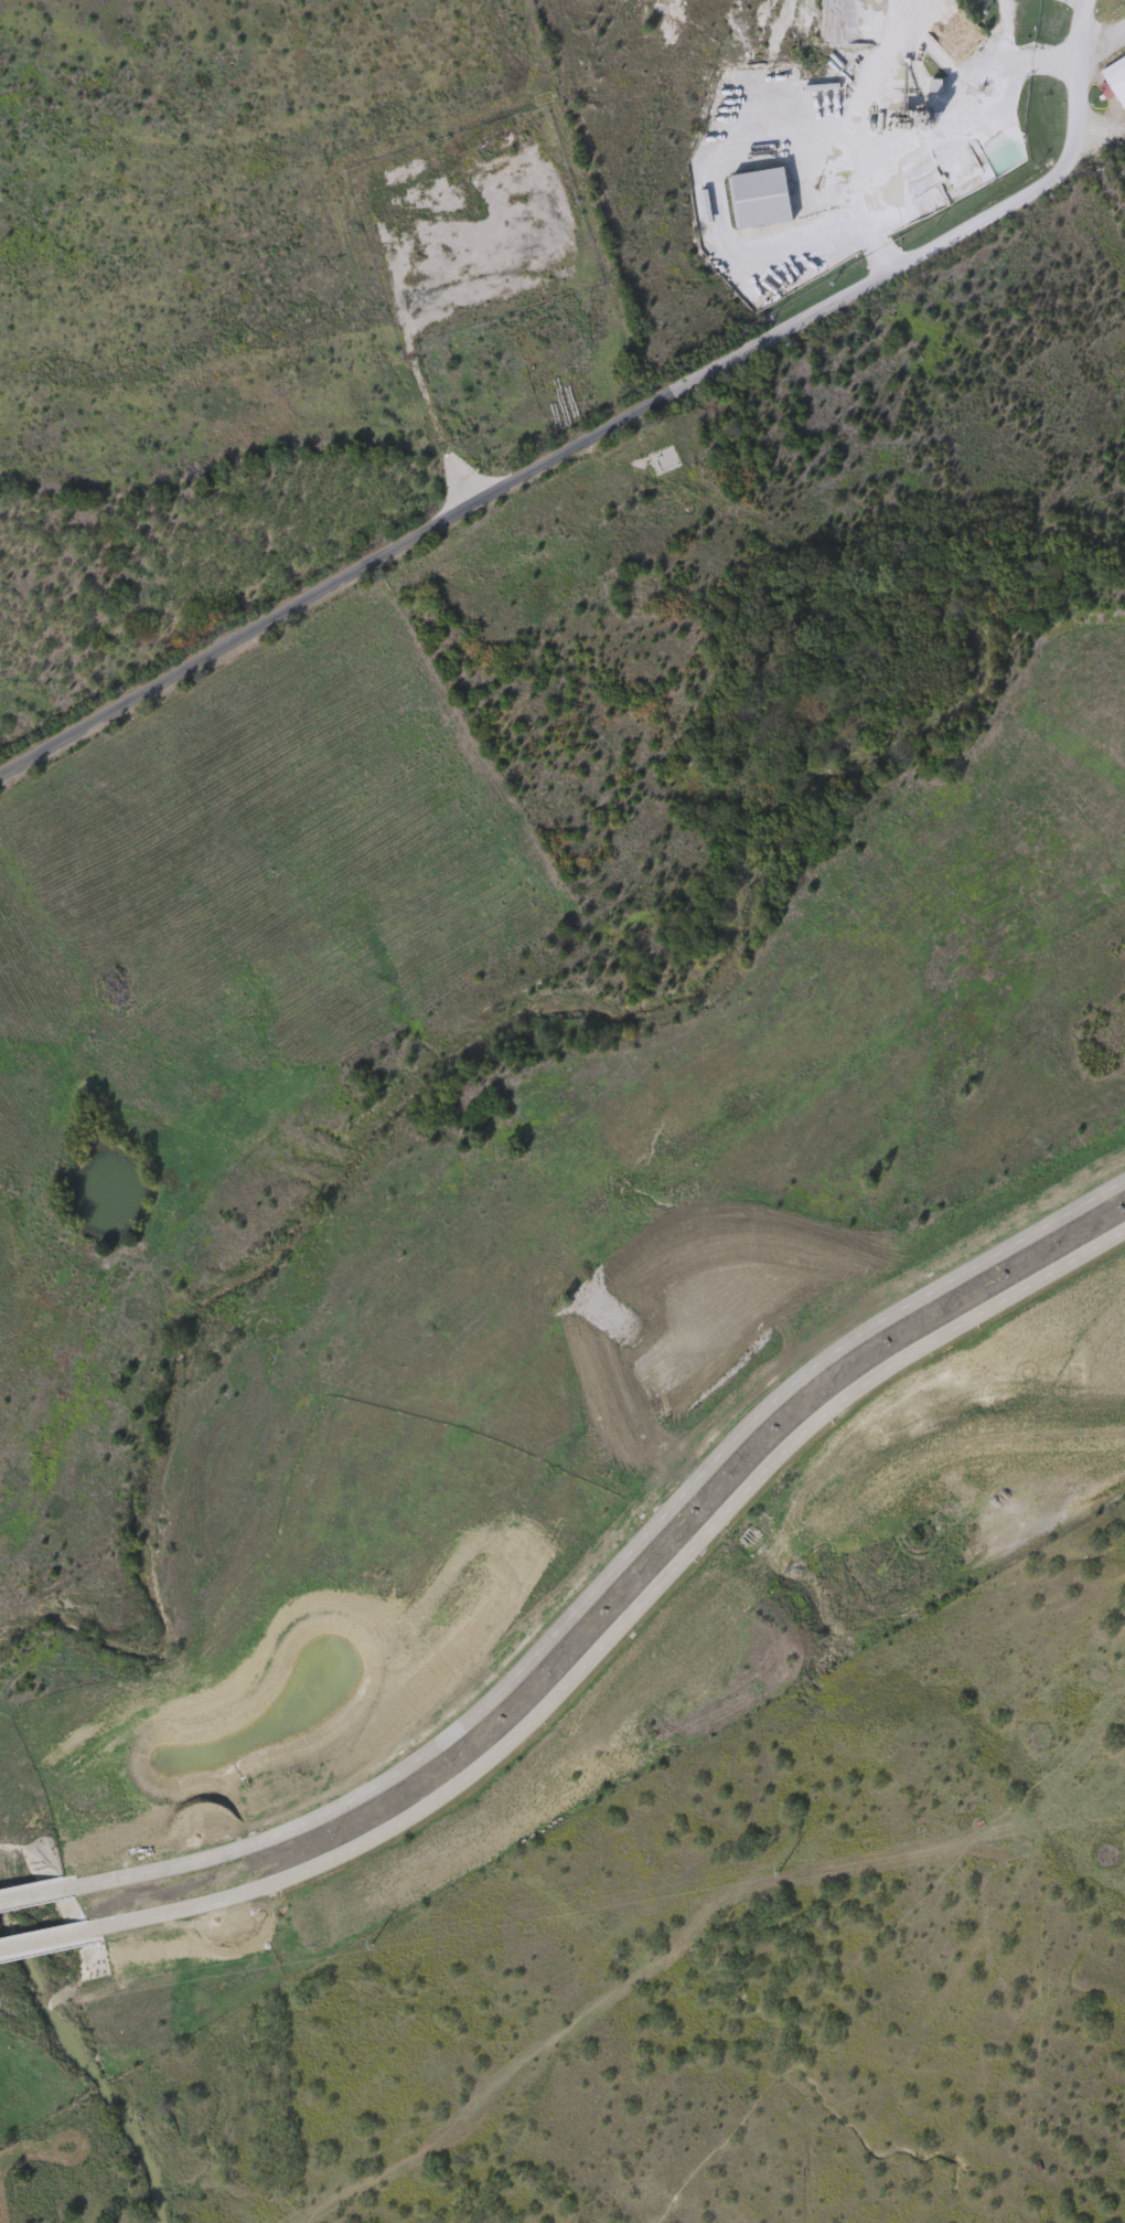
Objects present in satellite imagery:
road: (1104, 40)
building: (1117, 76)
building: (761, 199)
road: (614, 440)
road: (615, 1564)
road: (625, 1617)
road: (39, 1893)
road: (43, 1936)

